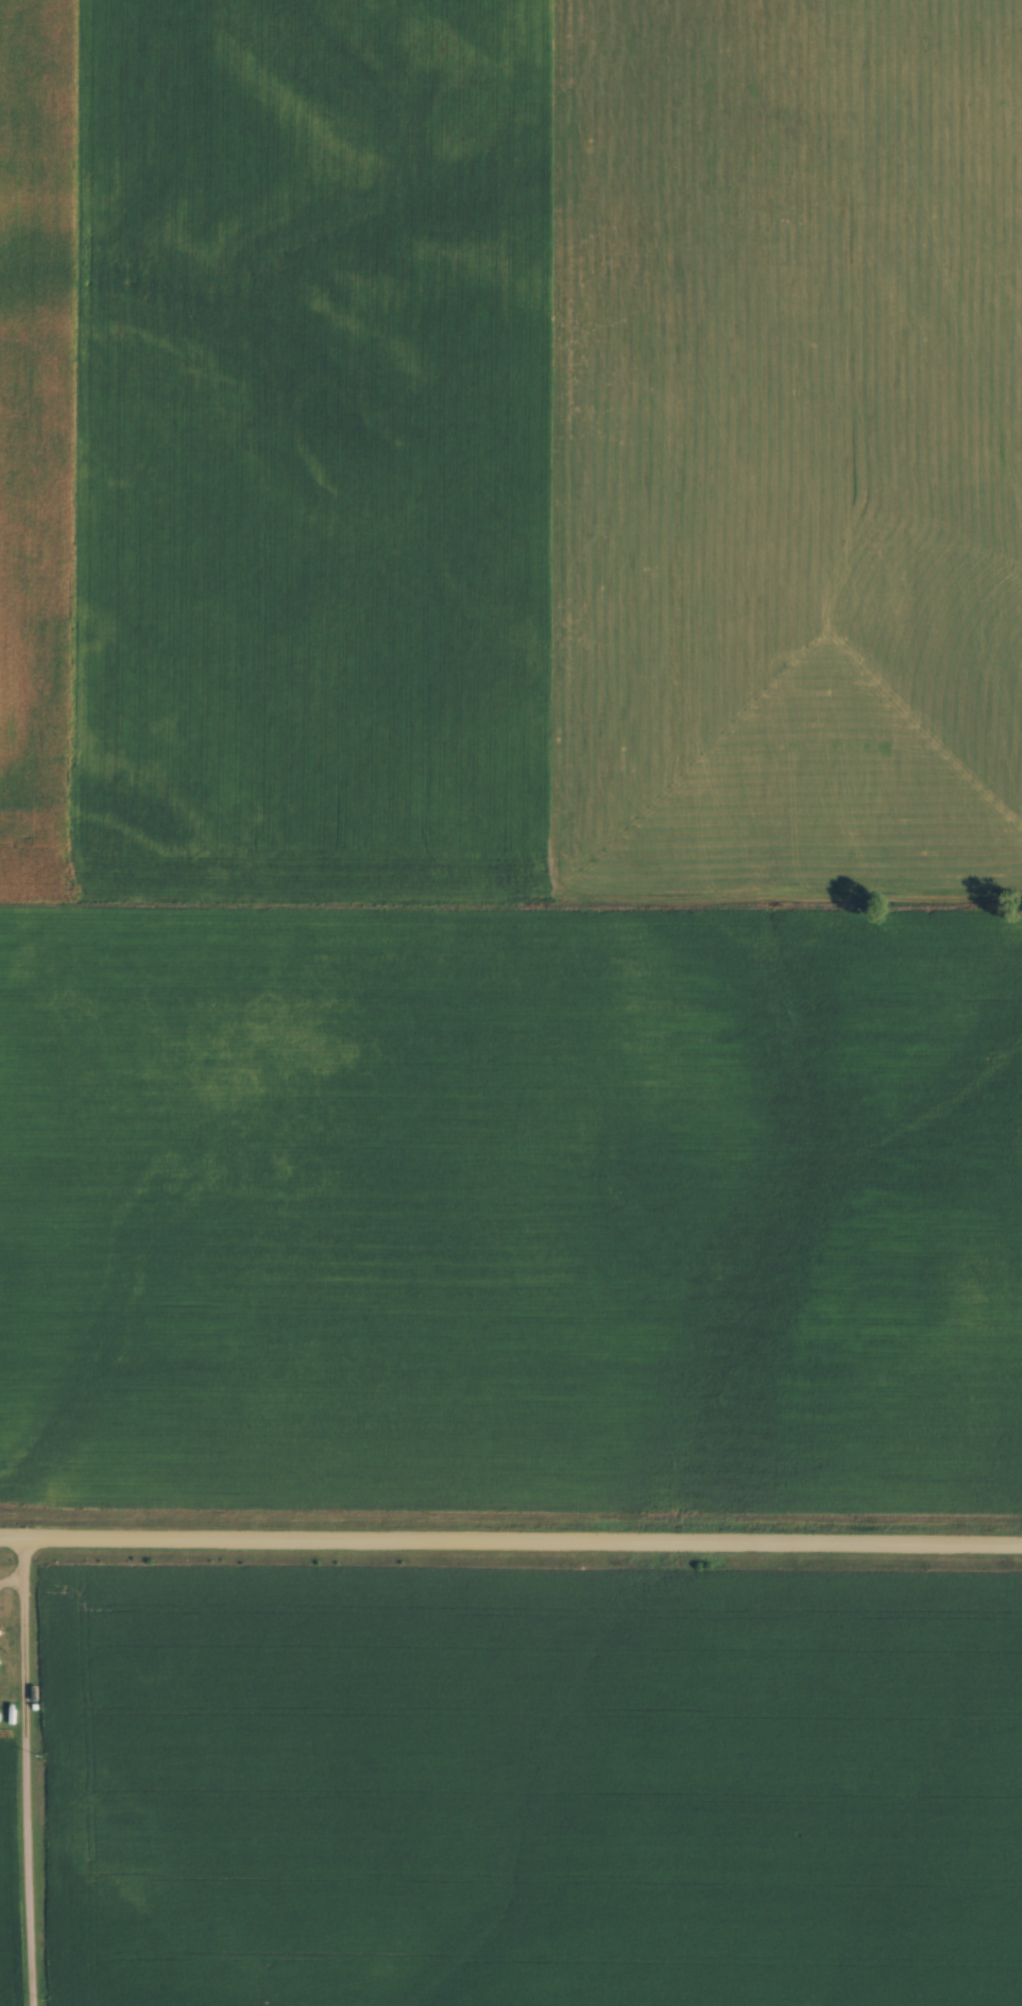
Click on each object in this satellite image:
road: (510, 1539)
building: (0, 1663)
road: (24, 1772)

